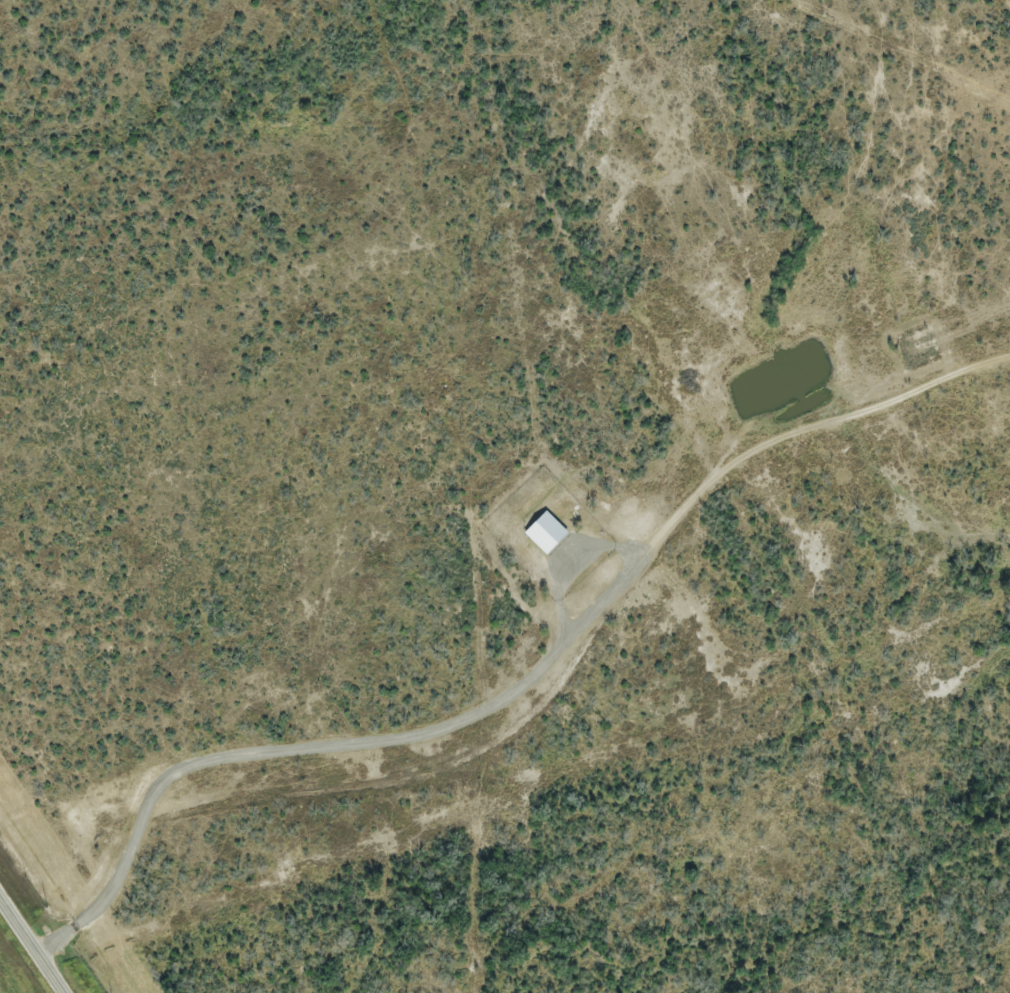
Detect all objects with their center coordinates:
building: (538, 532)
road: (547, 702)
road: (33, 942)

